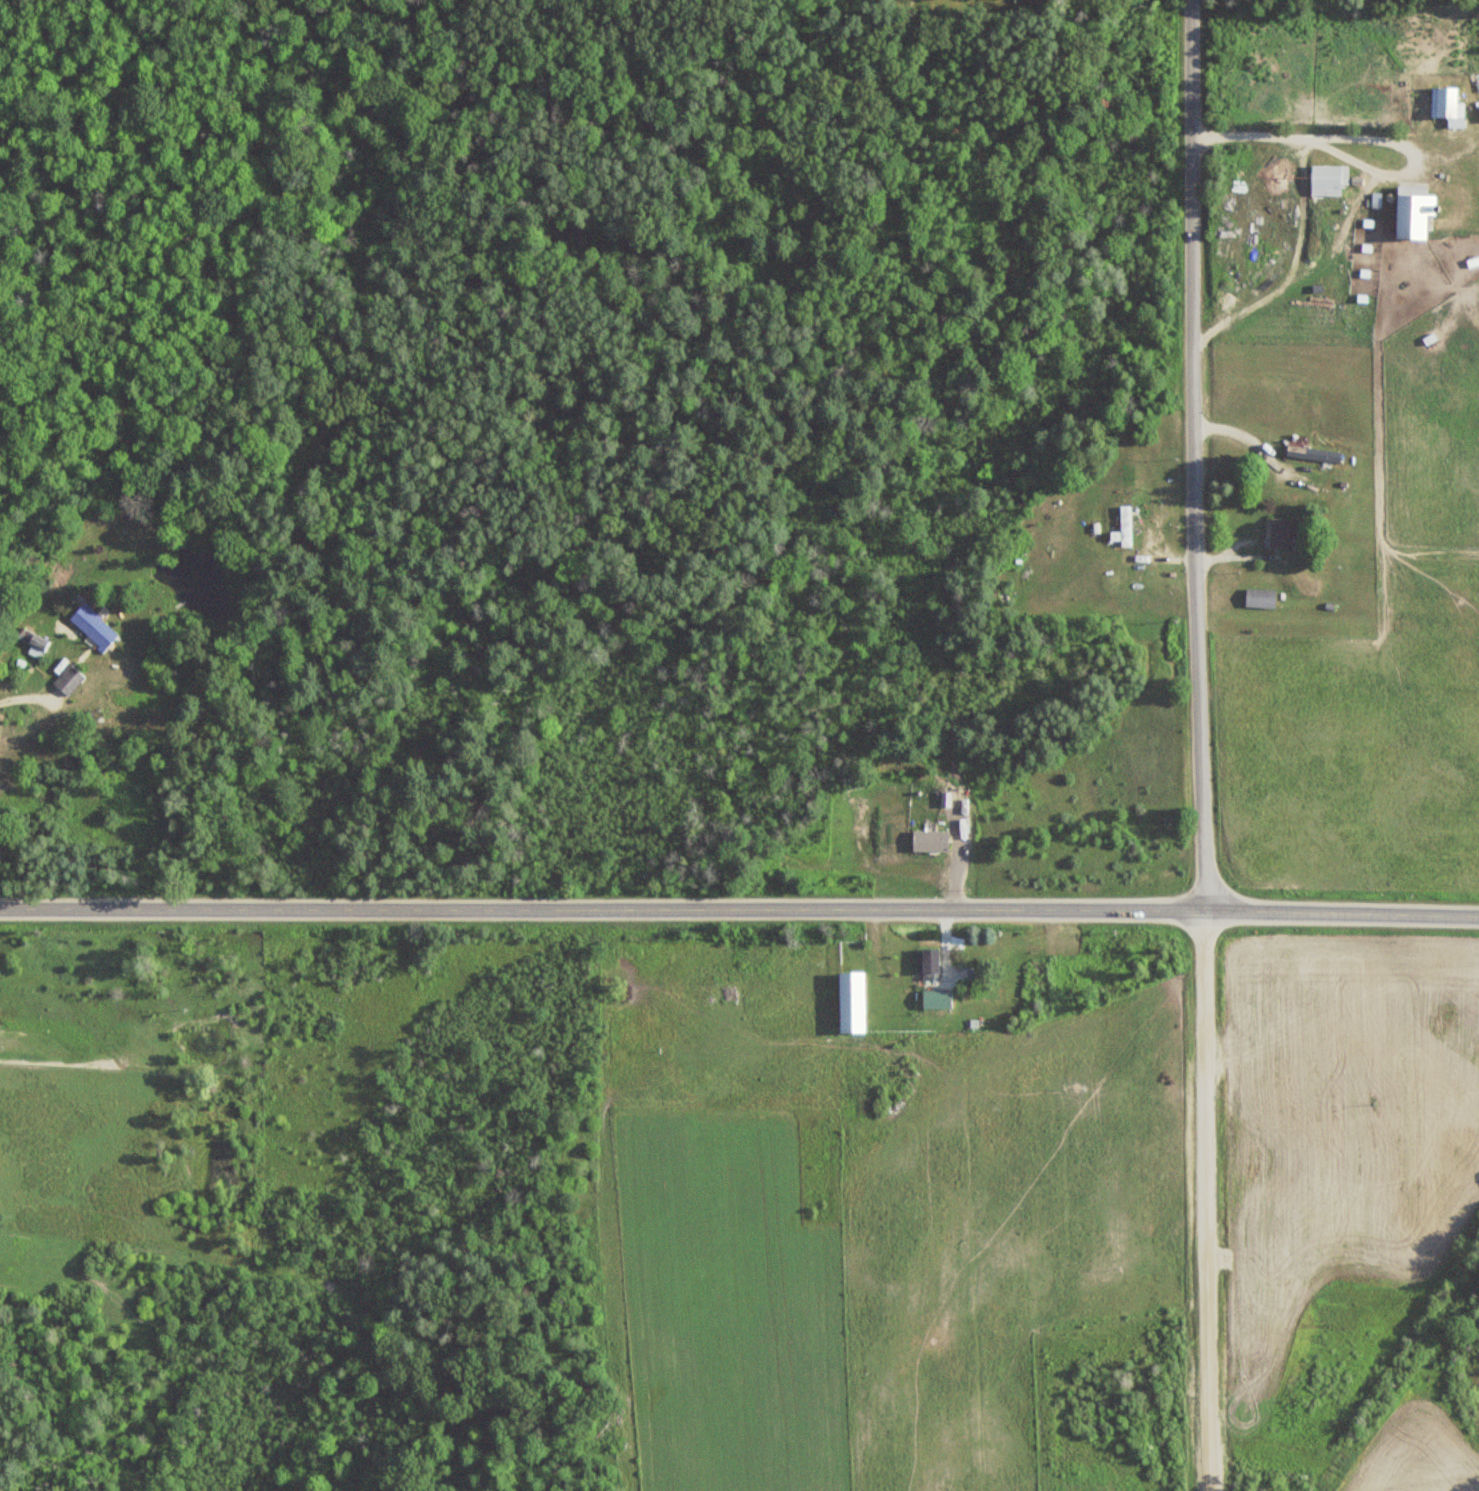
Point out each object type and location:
building: (1444, 103)
building: (1327, 180)
building: (1409, 212)
building: (1312, 453)
road: (1201, 454)
building: (1123, 516)
building: (1278, 532)
building: (1258, 598)
building: (92, 626)
building: (32, 642)
building: (67, 680)
road: (1342, 911)
road: (602, 912)
building: (926, 965)
building: (850, 1003)
road: (1208, 1199)

